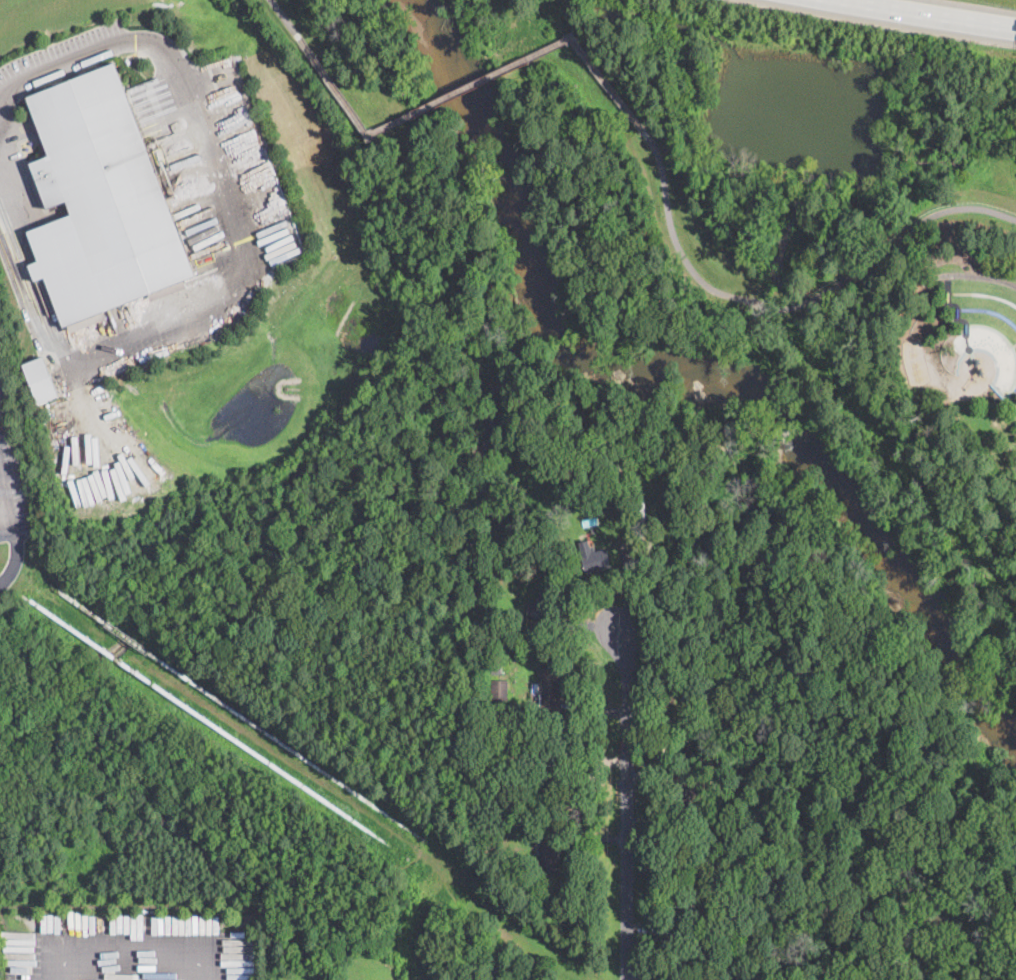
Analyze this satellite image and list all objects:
road: (933, 12)
road: (640, 127)
road: (223, 186)
building: (100, 200)
park: (787, 277)
road: (974, 278)
road: (983, 296)
road: (43, 311)
road: (989, 313)
road: (958, 314)
road: (1015, 347)
building: (41, 378)
park: (472, 388)
building: (613, 466)
building: (634, 488)
building: (580, 494)
building: (622, 518)
road: (16, 538)
building: (595, 560)
building: (543, 605)
building: (495, 669)
building: (549, 689)
building: (499, 690)
building: (685, 701)
building: (562, 747)
building: (657, 749)
building: (551, 750)
building: (549, 778)
building: (684, 795)
road: (627, 803)
building: (550, 856)
building: (680, 908)
building: (725, 919)
road: (130, 954)
building: (496, 971)
building: (746, 975)

